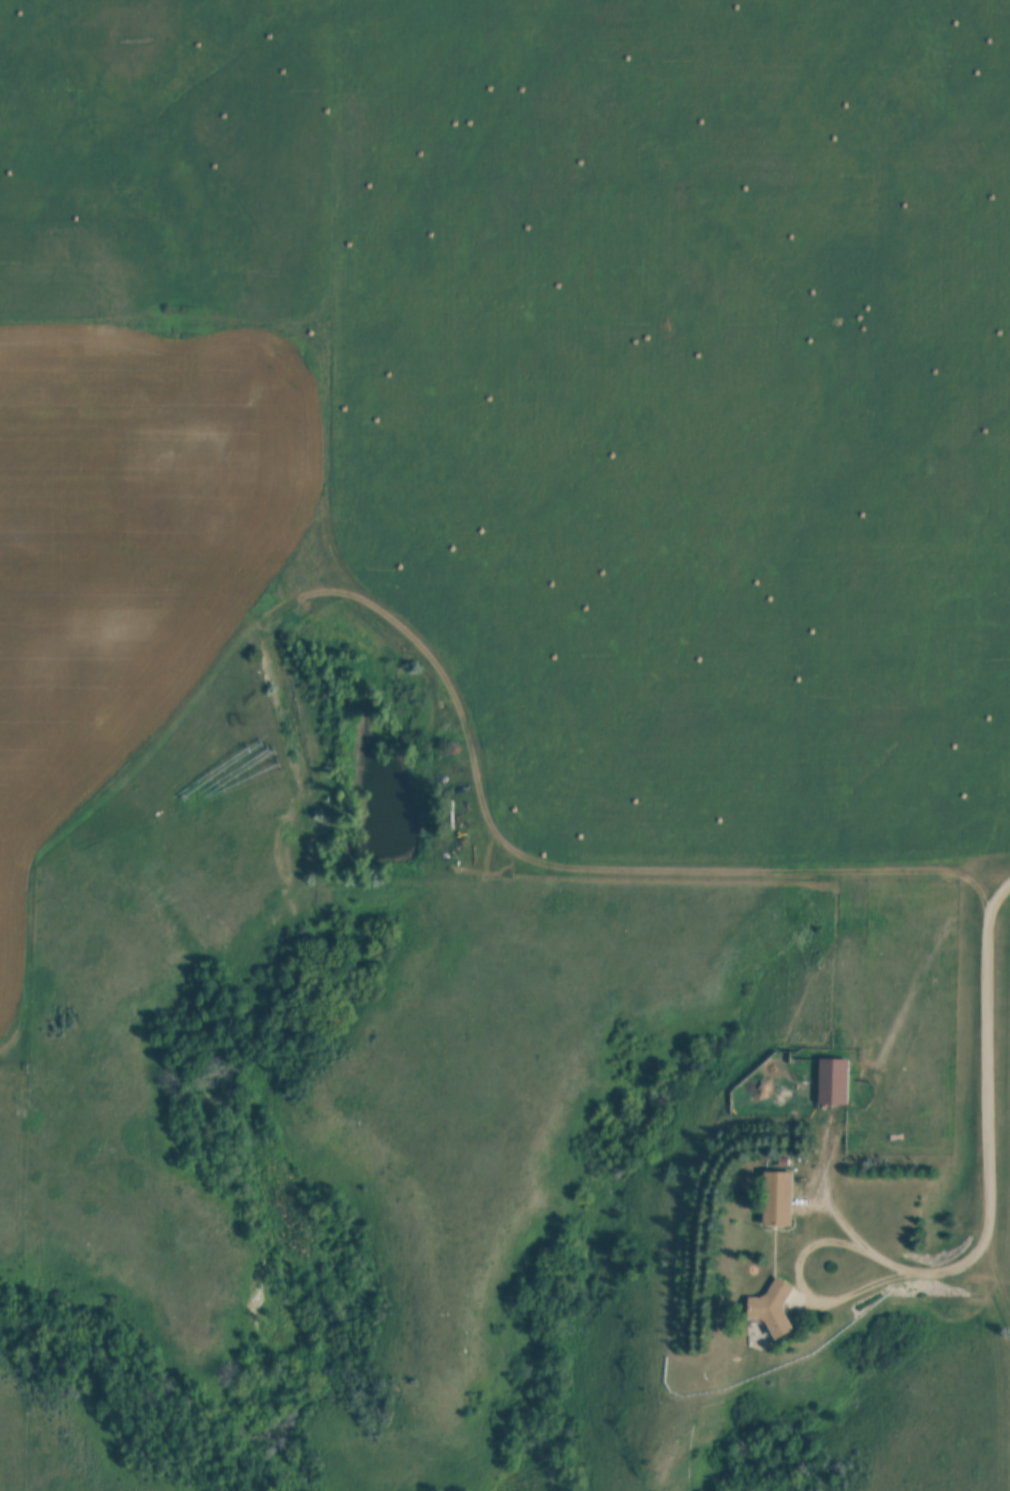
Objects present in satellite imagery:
building: (835, 1083)
road: (993, 1098)
road: (829, 1177)
building: (780, 1199)
road: (803, 1270)
building: (774, 1309)

